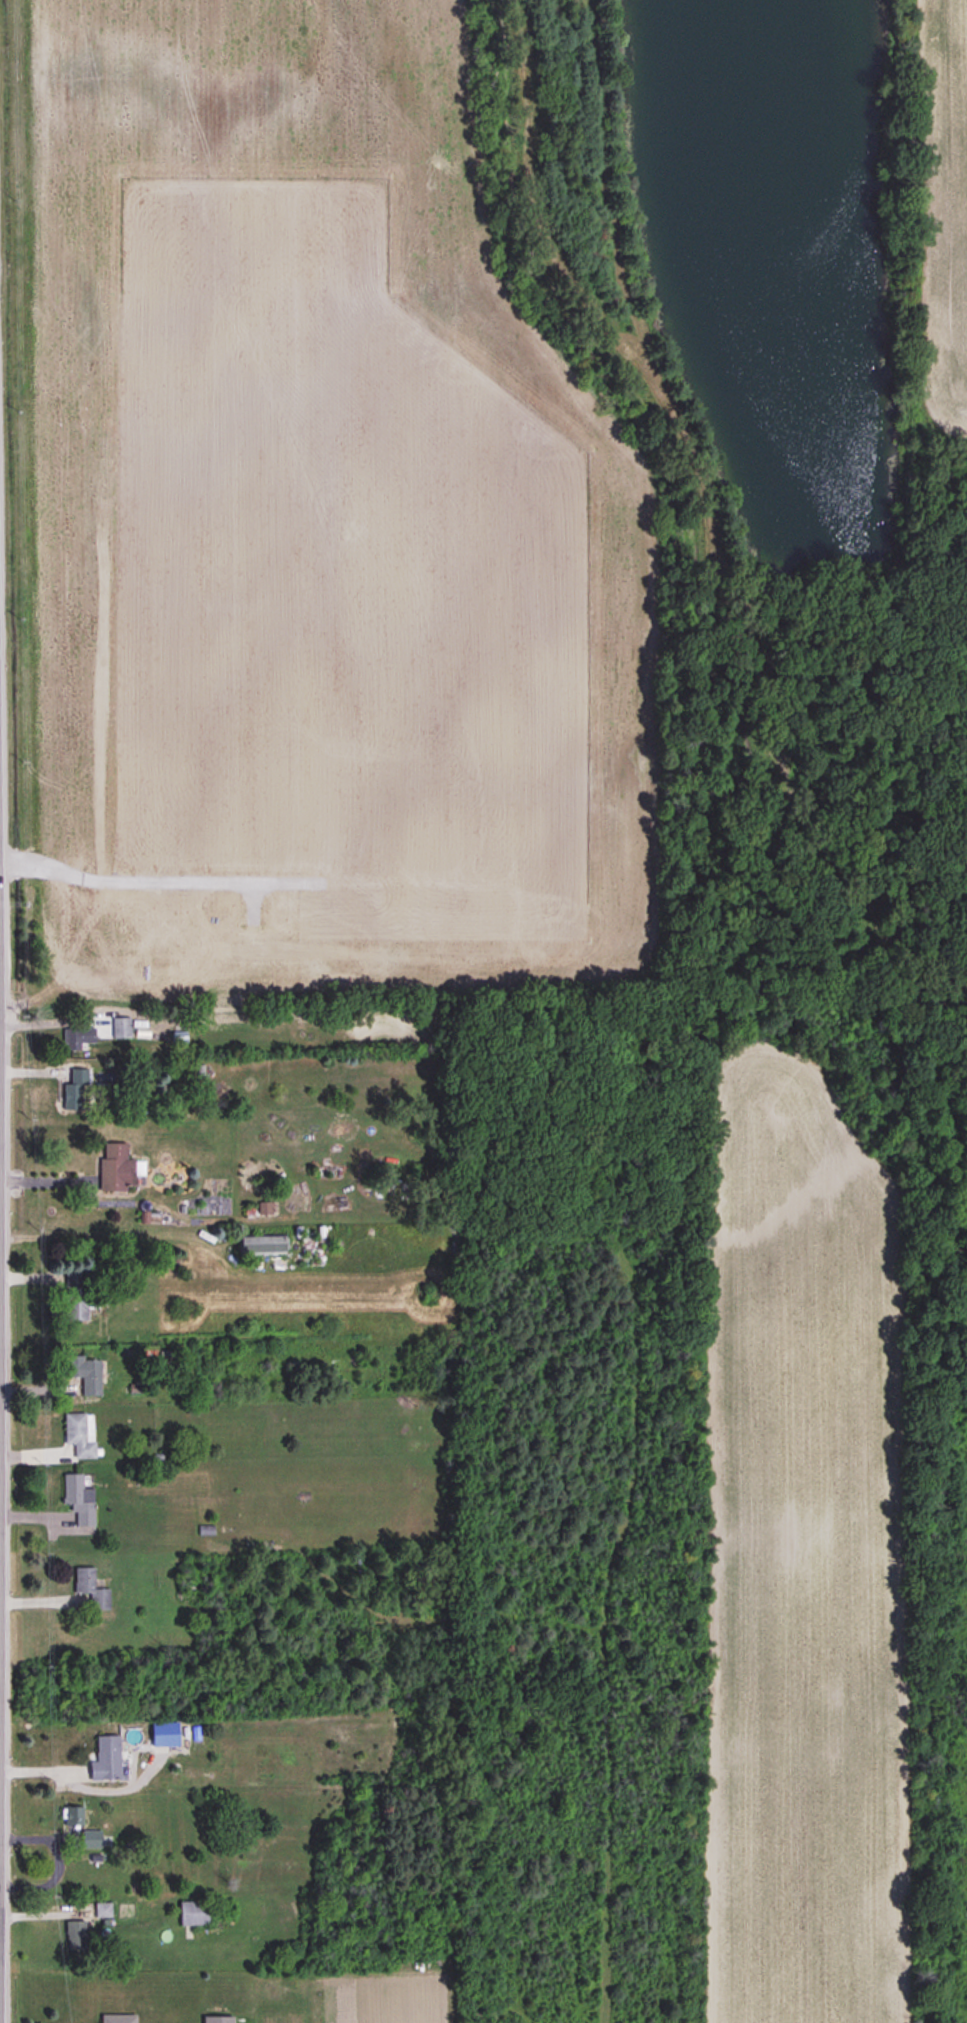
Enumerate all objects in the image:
road: (50, 1021)
building: (121, 1028)
building: (80, 1039)
building: (75, 1091)
building: (118, 1168)
building: (262, 1245)
building: (76, 1295)
building: (84, 1373)
building: (80, 1434)
building: (79, 1500)
building: (91, 1589)
building: (106, 1759)
building: (73, 1817)
building: (91, 1840)
building: (103, 1910)
building: (193, 1914)
building: (75, 1936)
building: (118, 2018)
building: (218, 2020)

